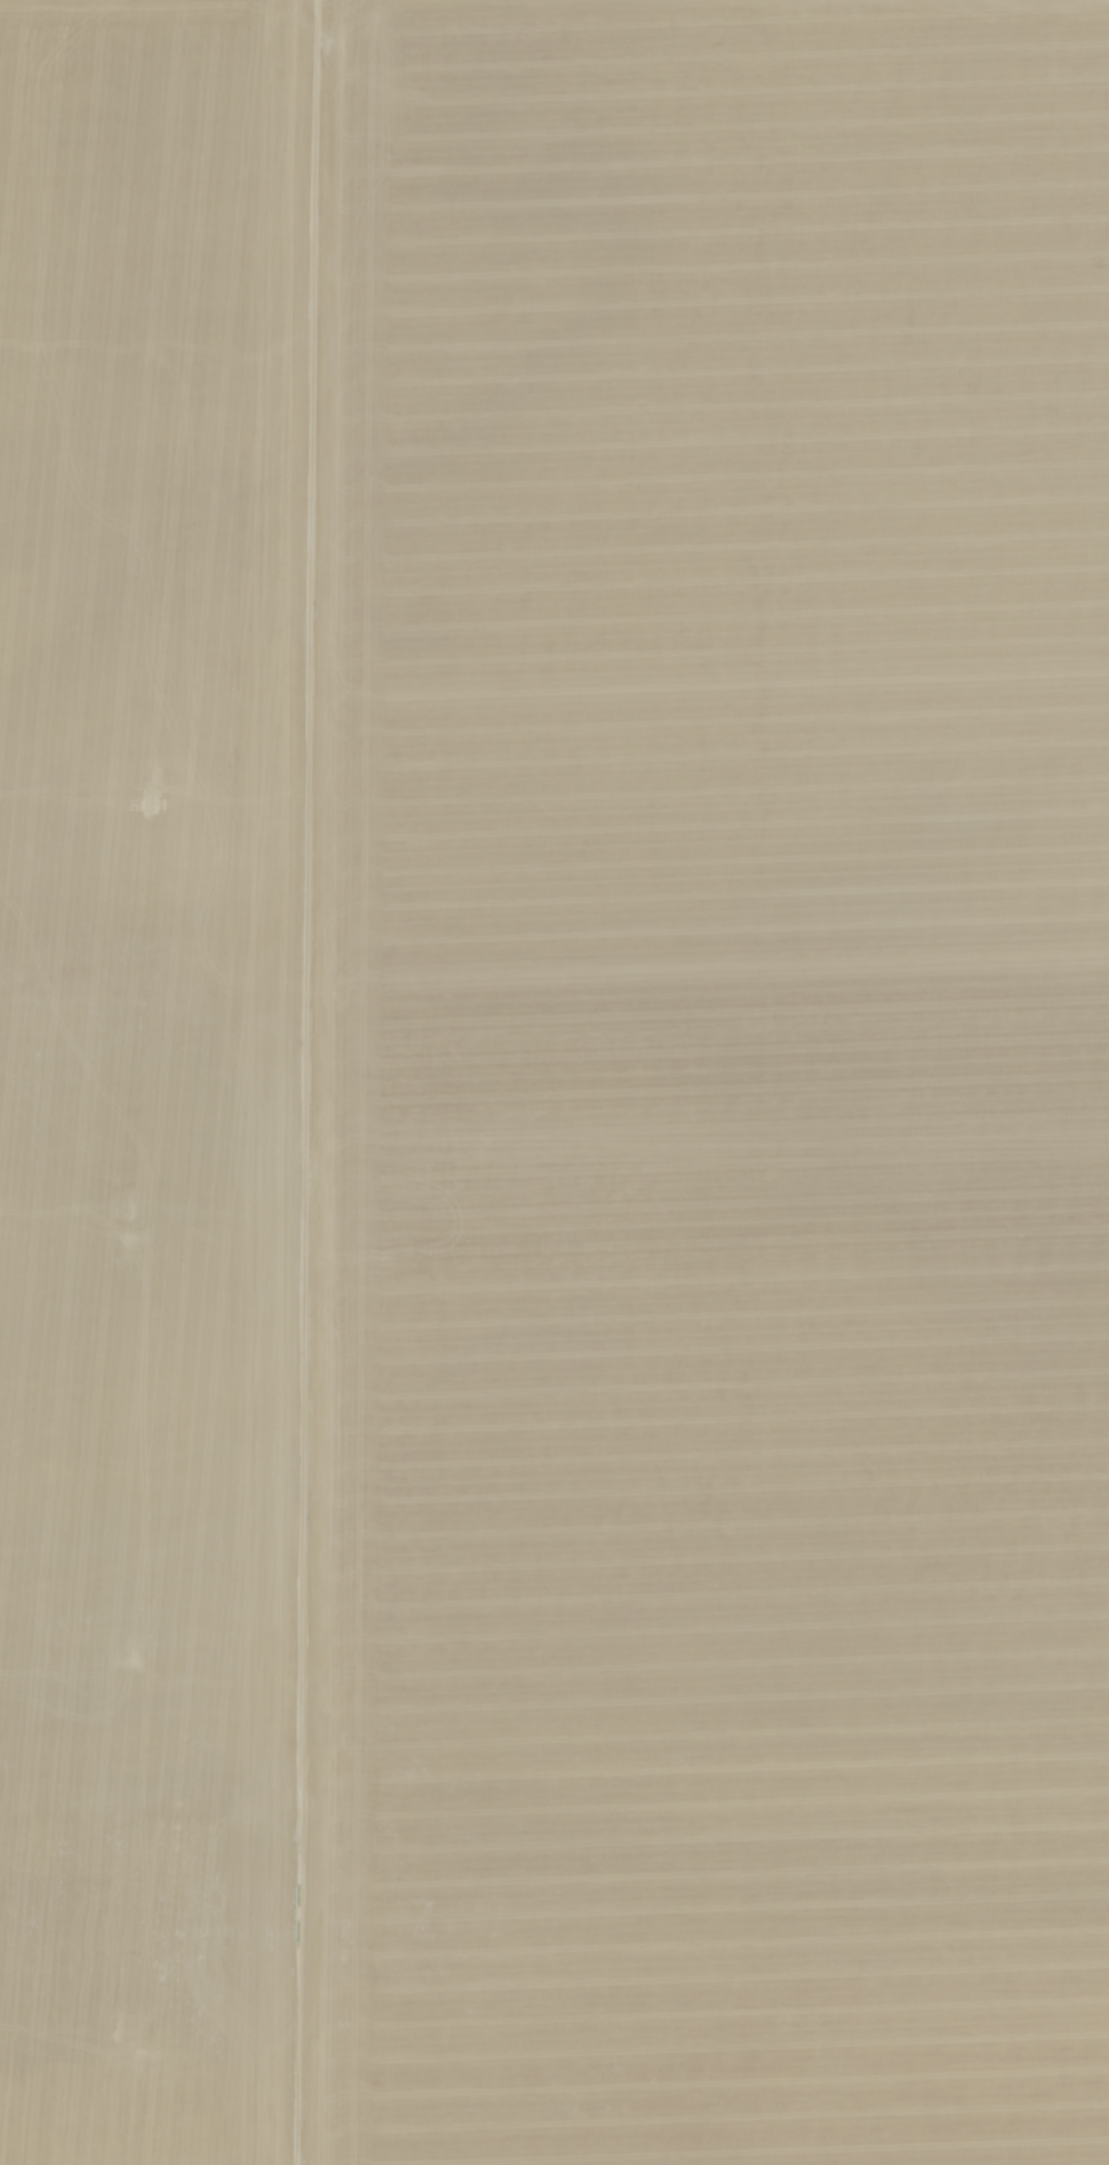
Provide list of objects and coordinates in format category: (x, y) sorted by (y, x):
road: (356, 1082)

